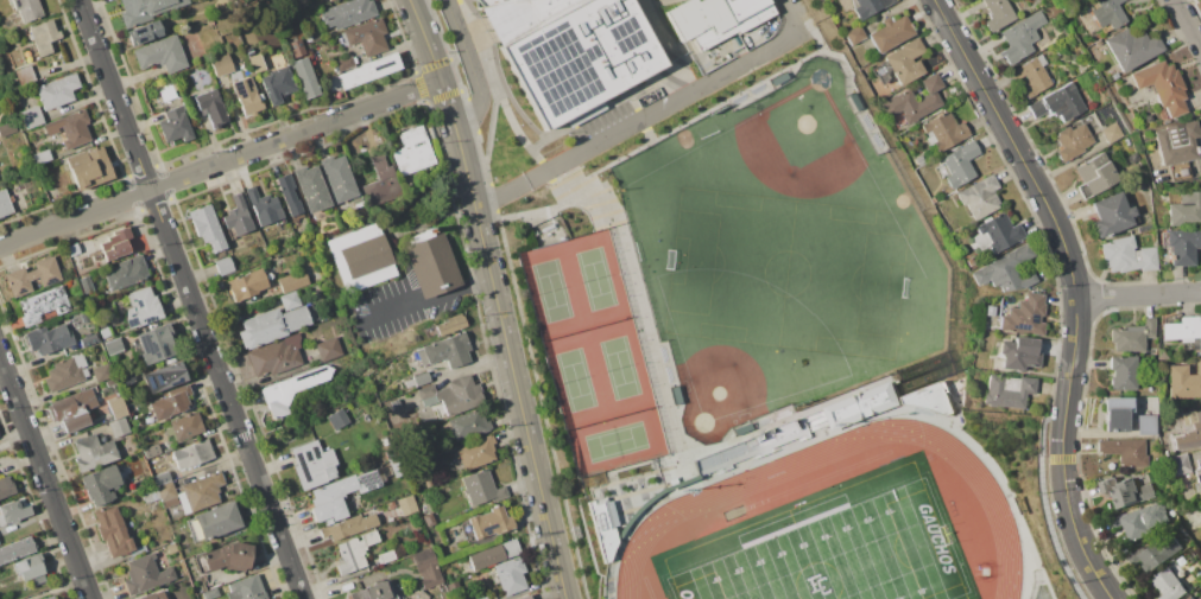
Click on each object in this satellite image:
building: (329, 0)
building: (235, 5)
building: (865, 6)
building: (27, 8)
building: (148, 8)
building: (347, 13)
building: (998, 13)
building: (1107, 13)
road: (1183, 18)
building: (719, 19)
building: (148, 31)
building: (891, 33)
building: (854, 34)
building: (1022, 36)
building: (44, 37)
building: (367, 37)
building: (308, 38)
road: (1197, 43)
building: (1100, 45)
building: (296, 47)
building: (1132, 47)
building: (570, 50)
building: (160, 53)
building: (279, 59)
building: (345, 63)
building: (902, 63)
building: (221, 65)
building: (368, 71)
road: (474, 72)
building: (25, 76)
building: (1032, 76)
building: (1114, 76)
building: (305, 77)
building: (277, 84)
building: (1162, 87)
building: (57, 90)
building: (166, 93)
building: (246, 96)
building: (916, 101)
building: (1060, 103)
building: (210, 107)
road: (649, 115)
building: (32, 117)
building: (175, 125)
building: (70, 127)
building: (7, 128)
building: (943, 132)
building: (1111, 132)
building: (61, 136)
building: (1073, 141)
building: (1177, 147)
building: (412, 151)
building: (42, 157)
building: (1132, 157)
building: (918, 160)
road: (219, 163)
building: (957, 165)
building: (89, 167)
building: (42, 168)
building: (1094, 174)
building: (340, 178)
building: (383, 181)
building: (312, 189)
building: (980, 197)
building: (291, 199)
building: (5, 203)
building: (265, 206)
building: (1186, 210)
building: (1112, 215)
building: (238, 216)
building: (207, 228)
building: (1145, 228)
building: (995, 234)
building: (116, 243)
building: (239, 243)
building: (1182, 246)
building: (72, 249)
park: (780, 254)
building: (1127, 255)
building: (360, 257)
building: (87, 261)
building: (971, 261)
building: (430, 263)
building: (223, 266)
building: (1006, 270)
building: (126, 272)
building: (32, 276)
building: (293, 281)
building: (89, 283)
building: (246, 285)
road: (1073, 288)
road: (1181, 292)
road: (494, 297)
road: (1118, 297)
road: (189, 299)
building: (290, 300)
road: (423, 301)
building: (43, 305)
building: (141, 307)
building: (1025, 316)
building: (84, 317)
building: (450, 325)
building: (271, 326)
building: (988, 326)
building: (1182, 330)
building: (106, 332)
building: (345, 333)
building: (1132, 336)
building: (51, 338)
building: (88, 340)
building: (156, 343)
building: (114, 346)
building: (328, 349)
building: (445, 351)
park: (592, 352)
building: (1019, 353)
building: (1162, 355)
building: (277, 356)
building: (65, 372)
building: (101, 372)
building: (1123, 372)
building: (163, 377)
building: (128, 378)
building: (422, 378)
building: (1183, 382)
building: (112, 383)
building: (409, 383)
building: (1007, 390)
building: (291, 391)
building: (428, 395)
building: (675, 395)
building: (457, 396)
building: (928, 399)
building: (171, 402)
building: (356, 404)
building: (394, 404)
building: (860, 404)
building: (116, 406)
building: (75, 409)
building: (1115, 414)
building: (337, 419)
building: (1146, 425)
building: (187, 426)
building: (466, 426)
building: (119, 427)
building: (742, 428)
building: (1189, 431)
building: (151, 451)
building: (1124, 451)
building: (91, 452)
building: (478, 453)
building: (192, 454)
building: (1178, 464)
building: (309, 465)
building: (1197, 473)
building: (159, 474)
road: (44, 480)
building: (428, 483)
building: (101, 485)
building: (6, 486)
building: (481, 488)
building: (1125, 491)
building: (200, 492)
building: (167, 495)
building: (150, 496)
building: (342, 496)
building: (391, 505)
building: (406, 505)
building: (1200, 505)
track: (677, 509)
building: (13, 511)
building: (429, 520)
building: (214, 521)
building: (1140, 521)
building: (486, 525)
building: (347, 527)
building: (602, 527)
building: (113, 531)
building: (171, 548)
building: (15, 549)
building: (138, 549)
building: (354, 550)
building: (1156, 552)
building: (493, 554)
park: (839, 555)
building: (386, 556)
building: (225, 557)
building: (169, 560)
building: (31, 568)
building: (428, 568)
building: (145, 573)
building: (511, 575)
building: (1169, 585)
building: (246, 588)
building: (373, 591)
building: (209, 593)
building: (147, 595)
building: (50, 597)
building: (524, 597)
building: (485, 598)
building: (1190, 598)
building: (1200, 598)

